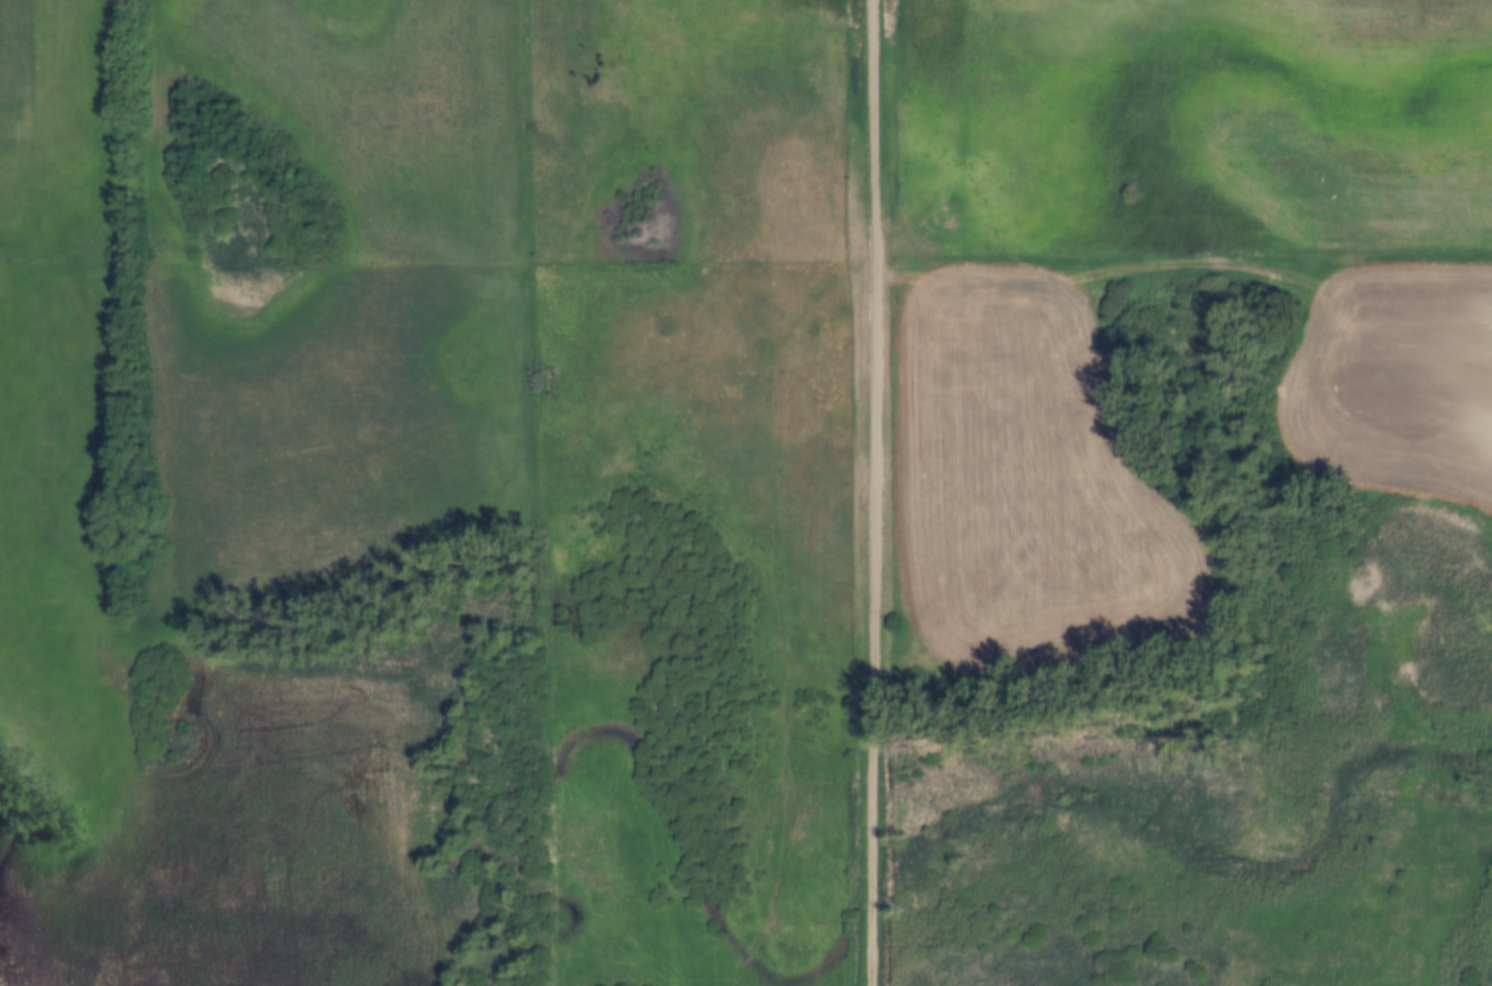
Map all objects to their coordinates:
road: (1184, 266)
road: (262, 296)
road: (872, 492)
road: (528, 496)

